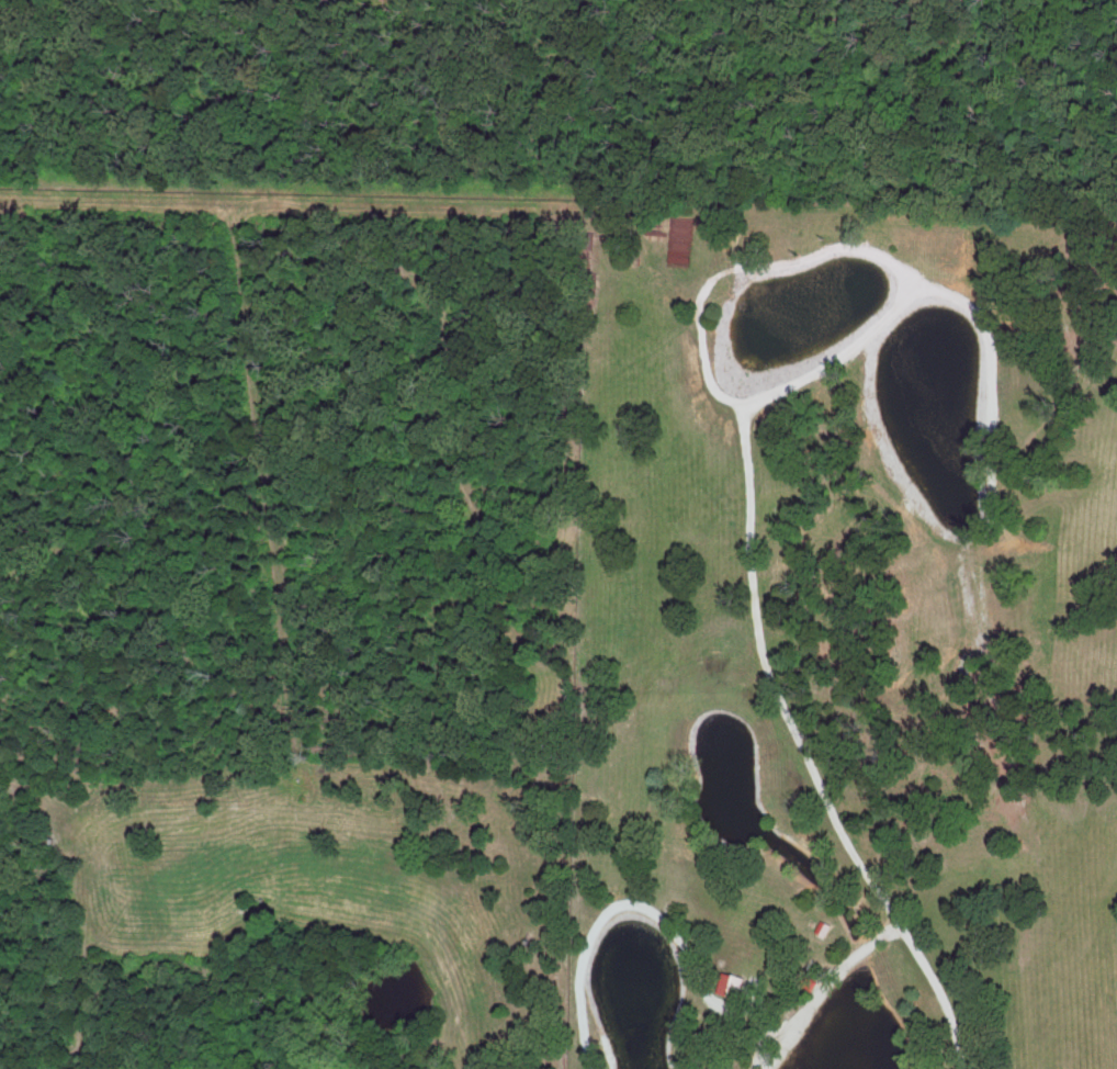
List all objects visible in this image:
road: (887, 942)
building: (734, 983)

